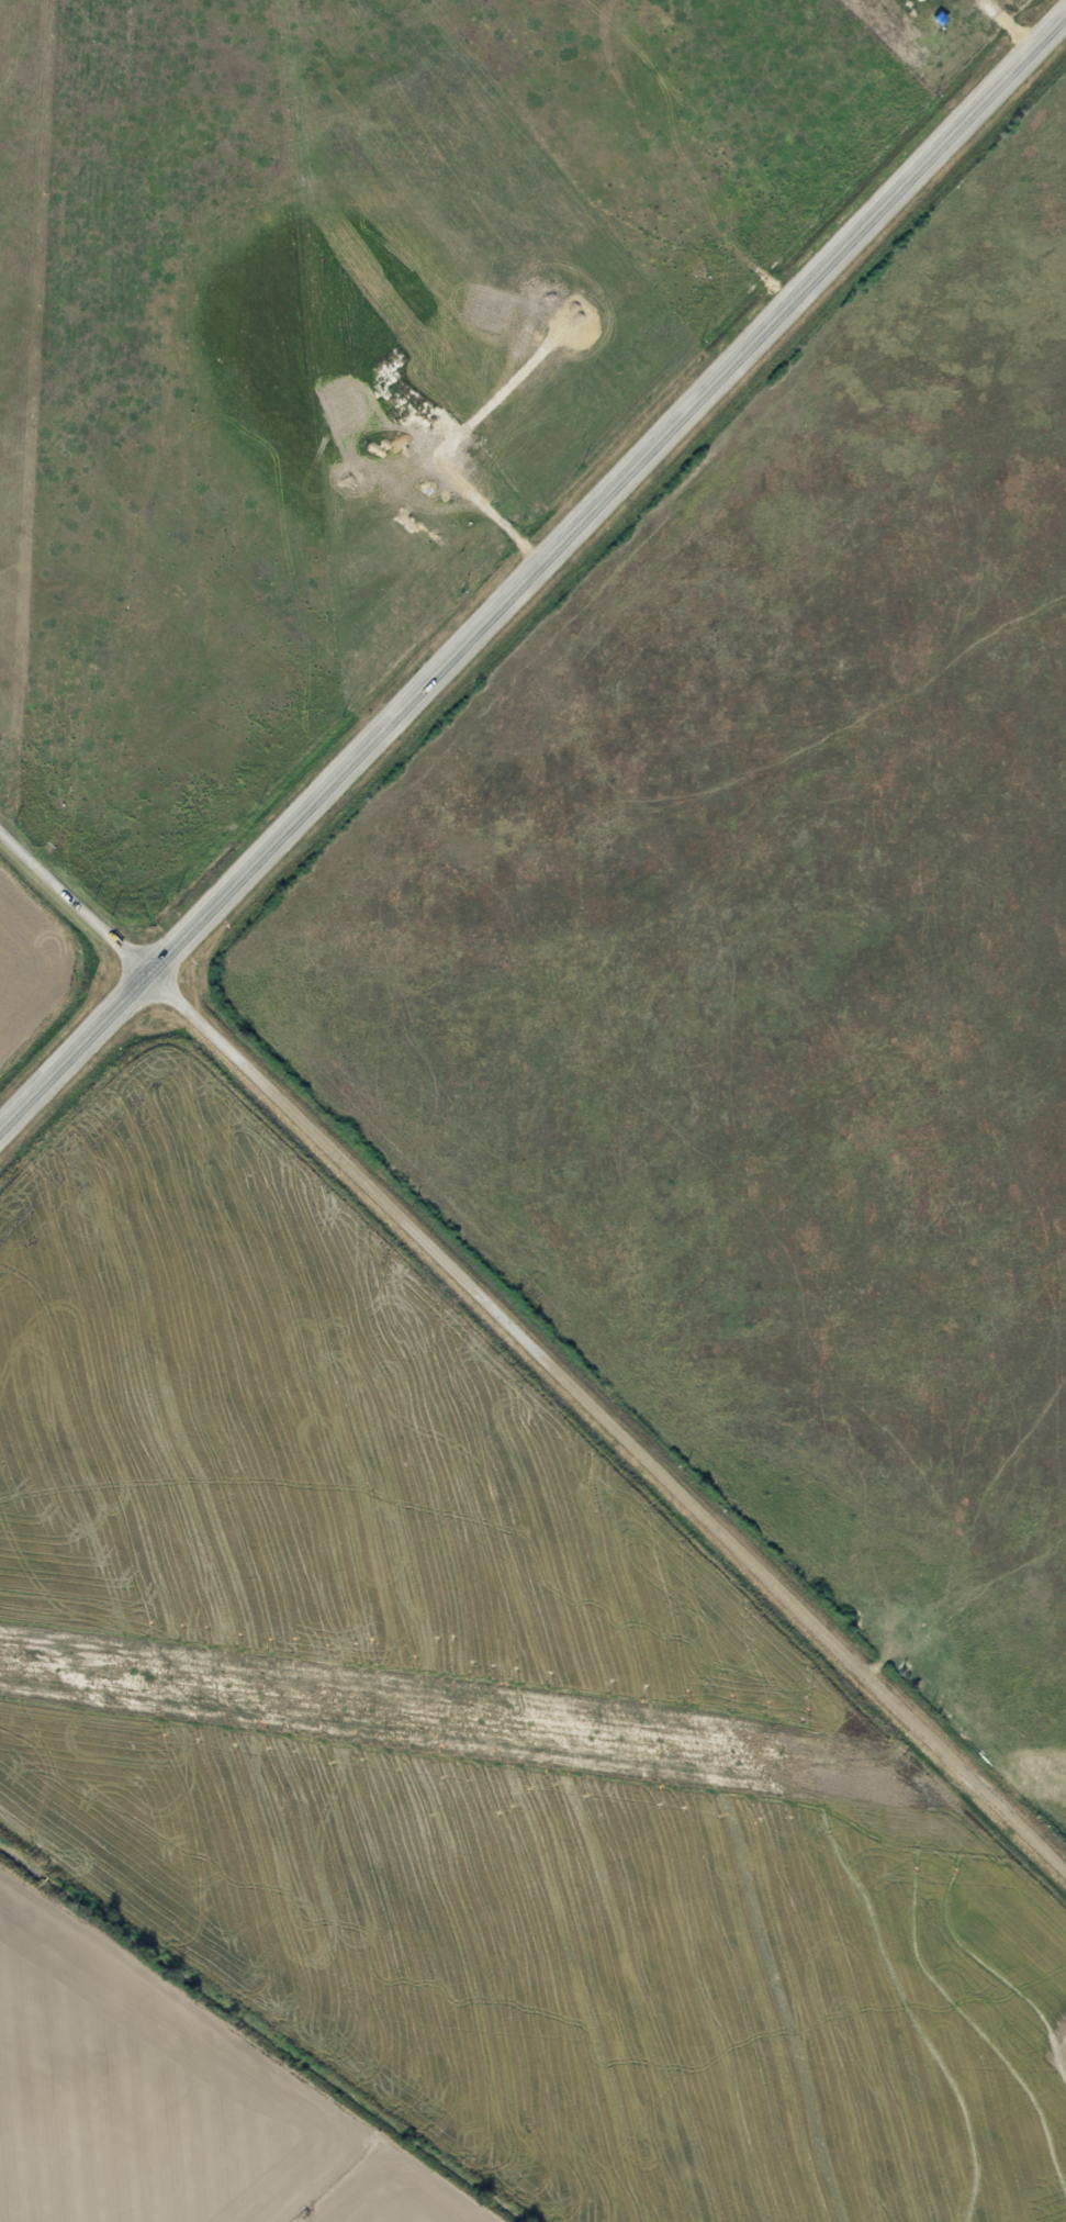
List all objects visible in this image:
road: (535, 569)
road: (75, 898)
road: (610, 1417)

